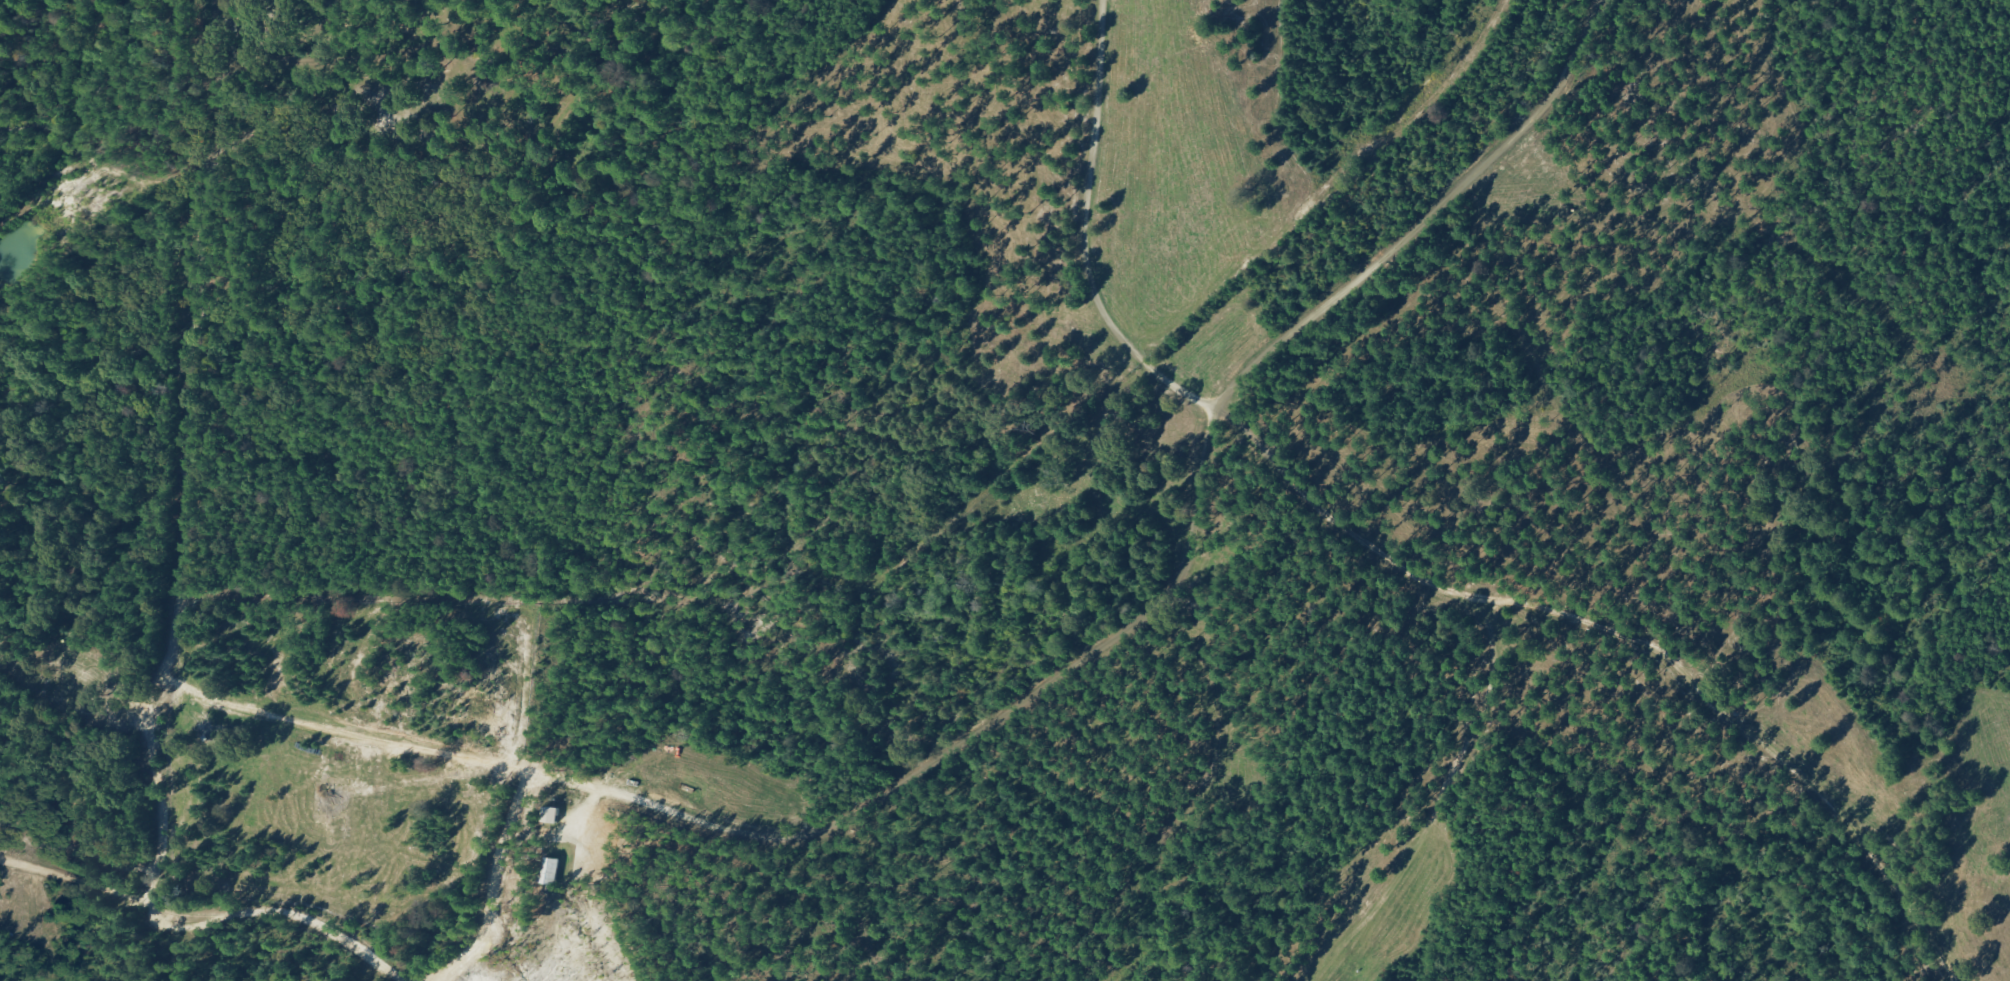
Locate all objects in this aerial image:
road: (1010, 145)
road: (1091, 652)
building: (552, 815)
building: (553, 872)
road: (207, 920)

